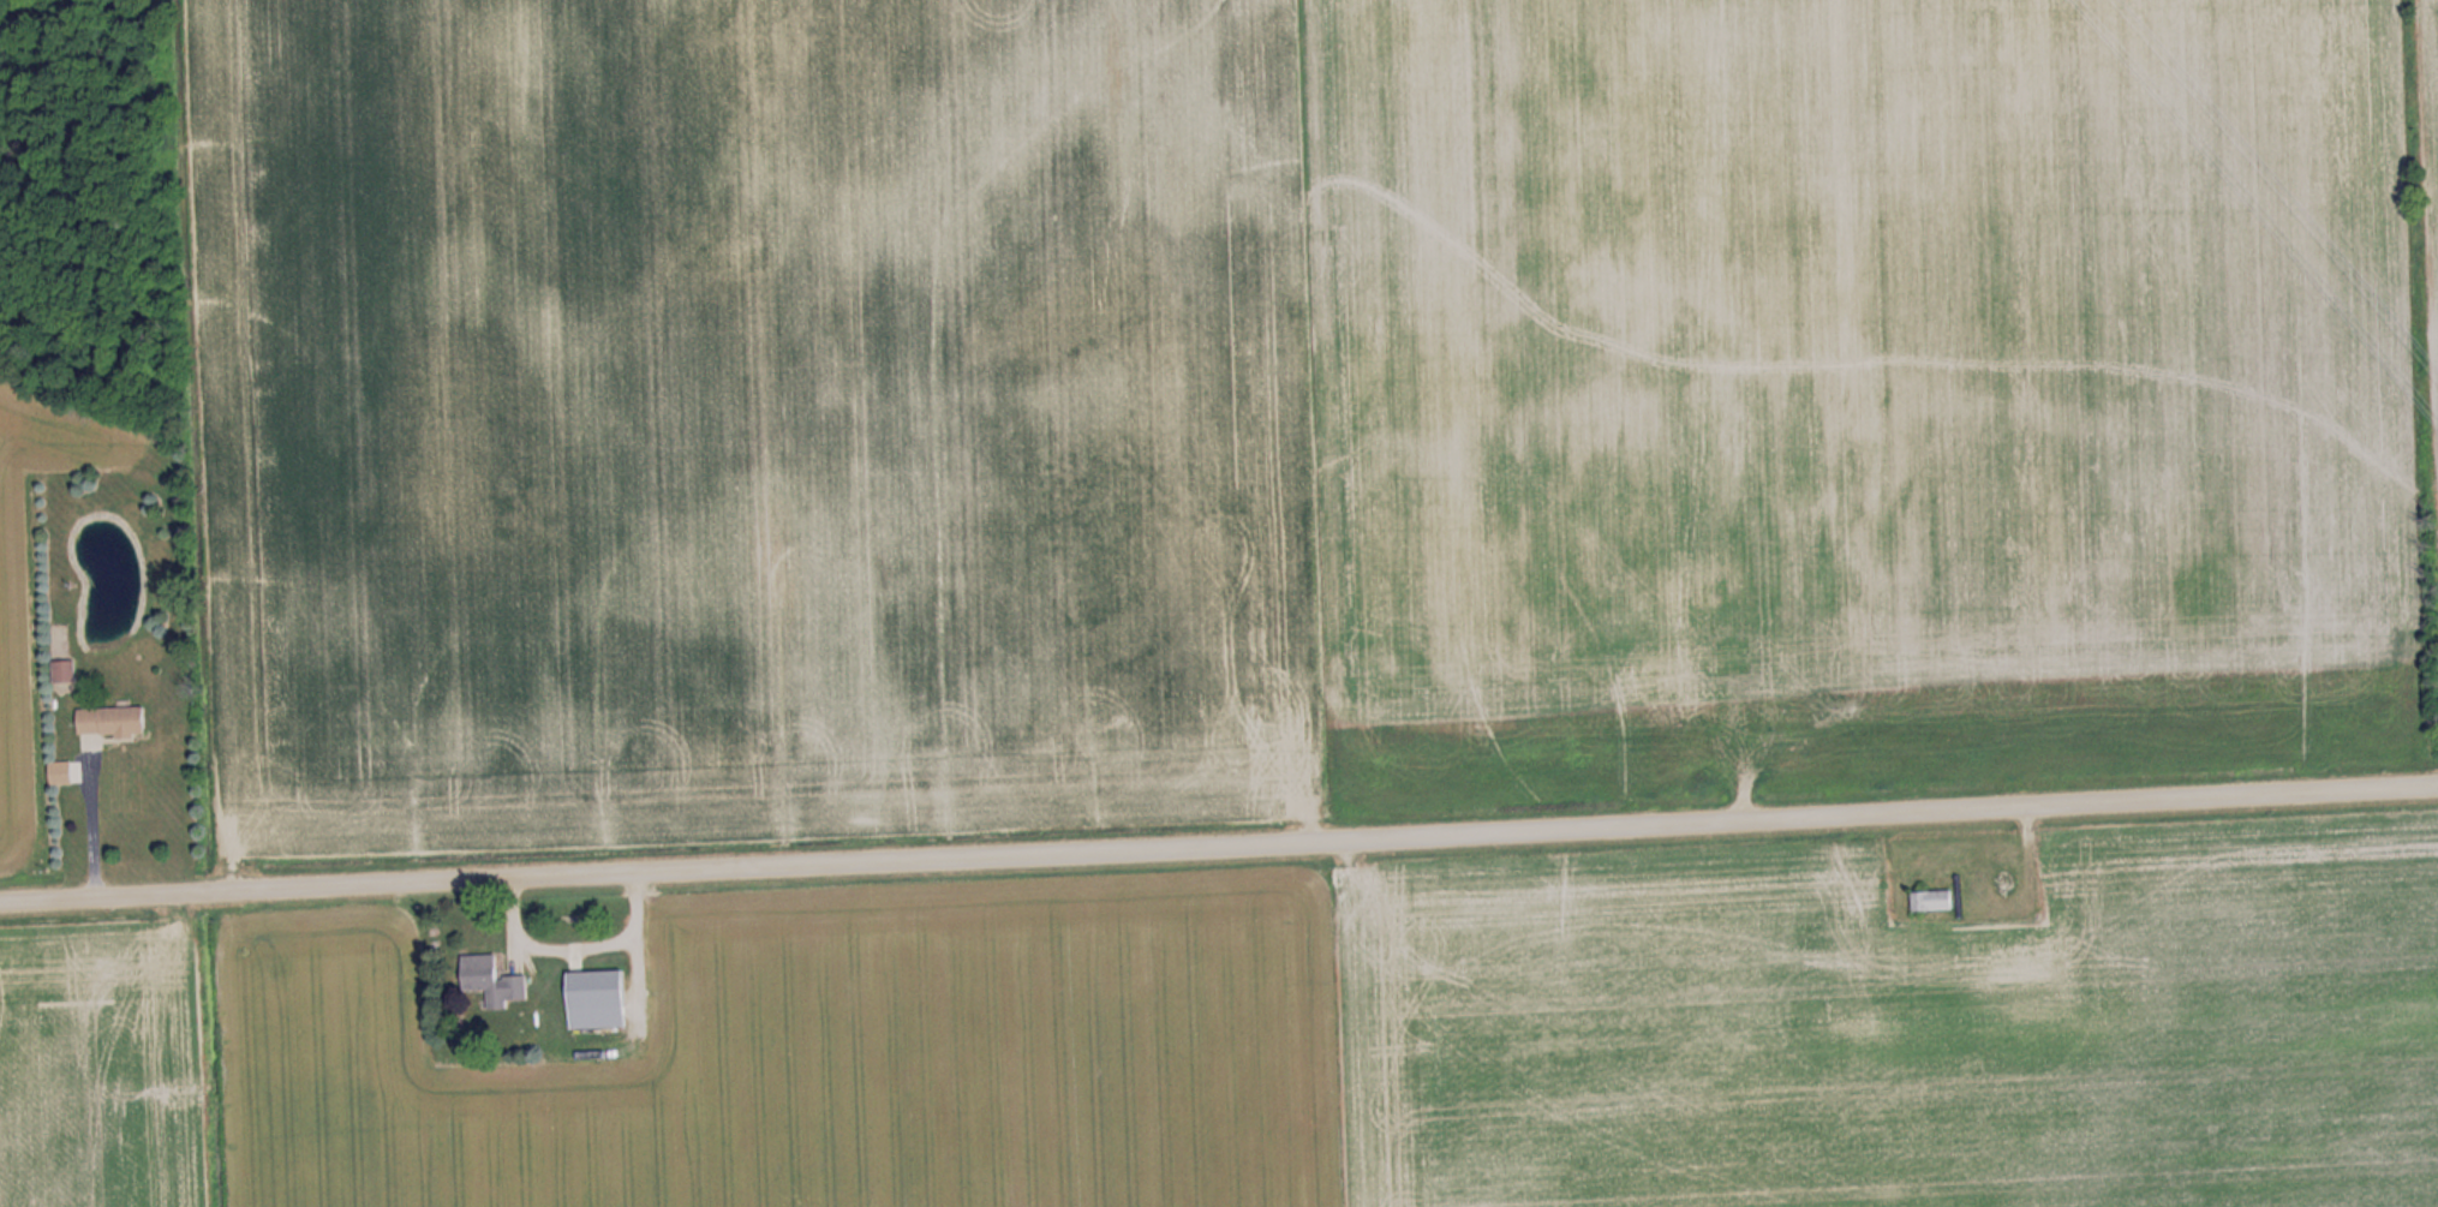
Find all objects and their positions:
building: (66, 671)
building: (115, 721)
road: (91, 815)
road: (1219, 844)
building: (1928, 900)
building: (494, 981)
building: (599, 990)

